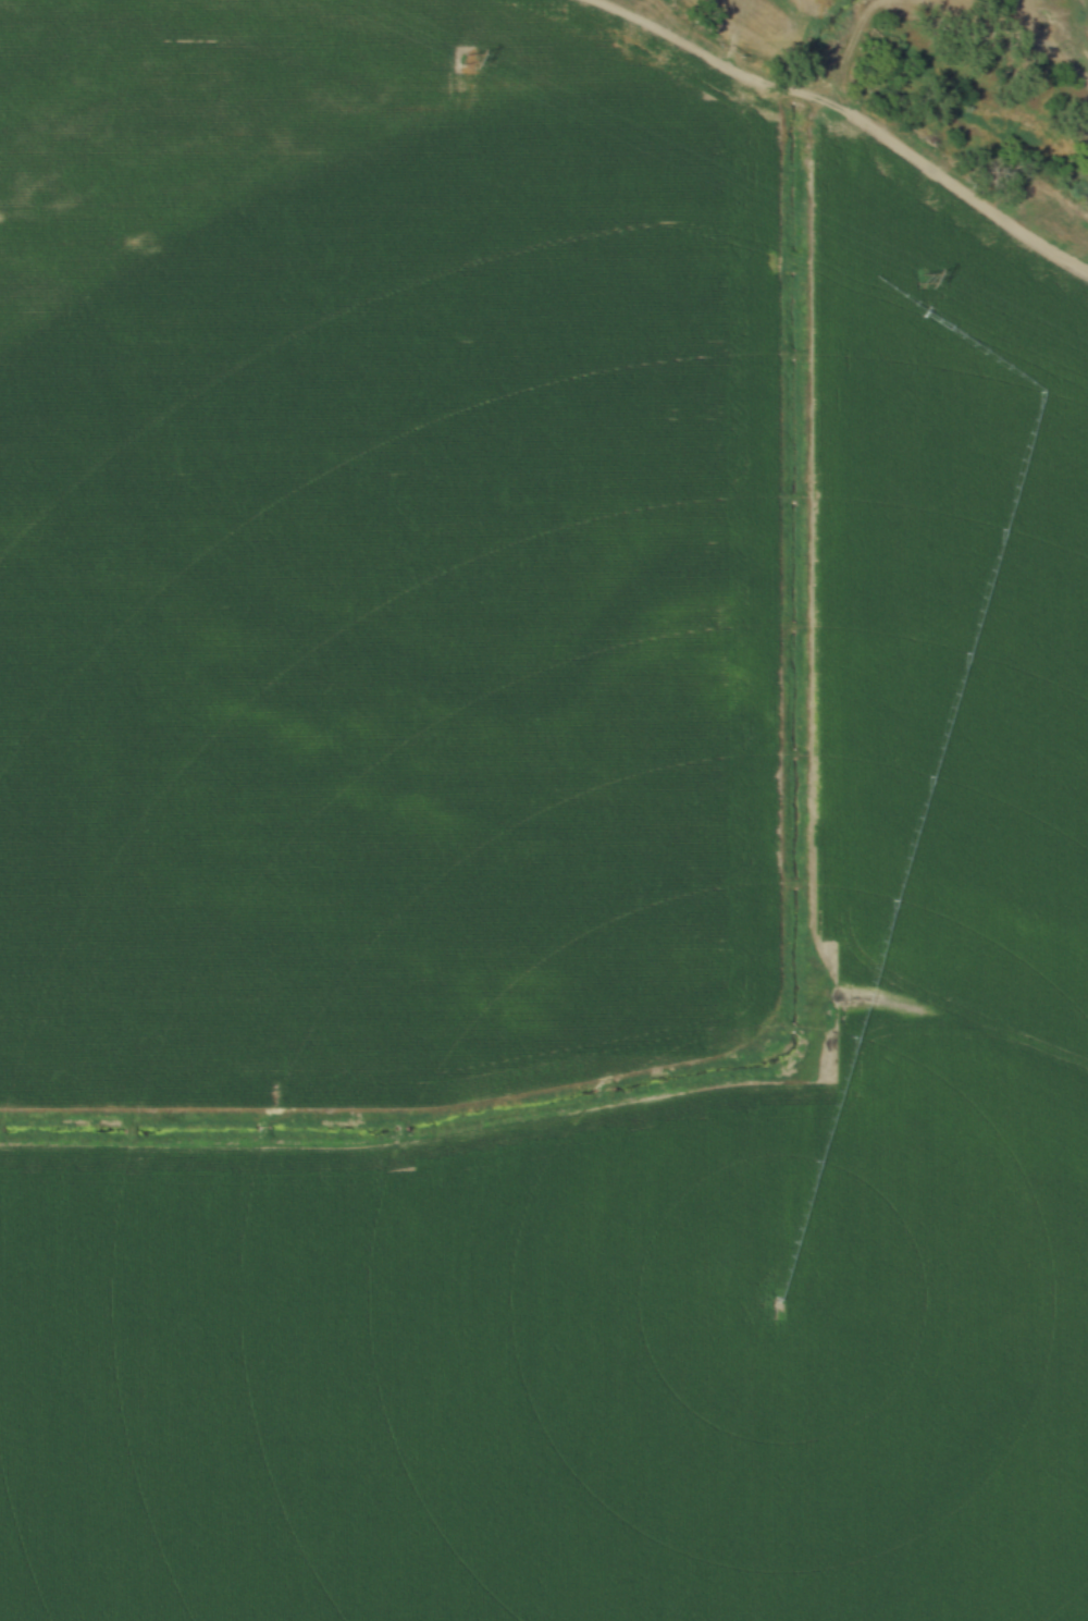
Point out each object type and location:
power tower: (469, 63)
road: (841, 127)
power tower: (910, 277)
crop: (364, 551)
crop: (670, 1170)

